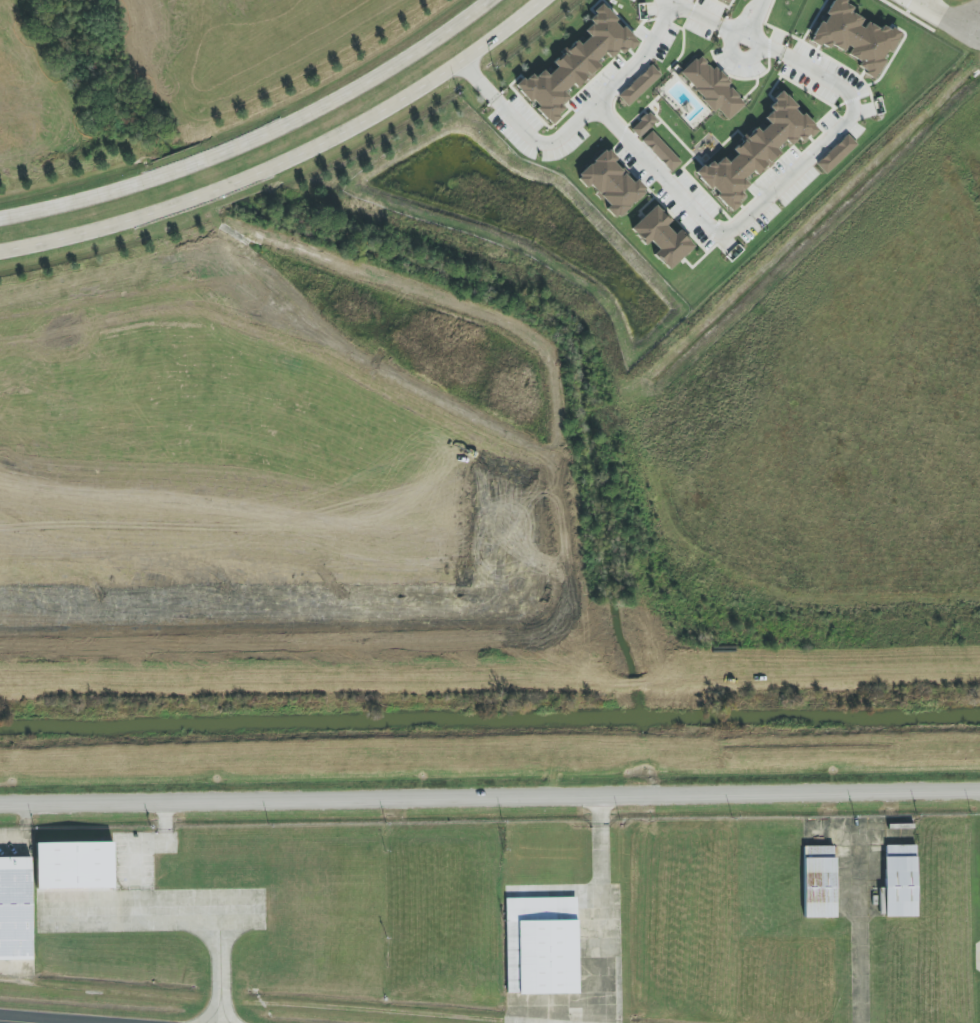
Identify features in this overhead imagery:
building: (726, 1)
road: (935, 20)
road: (703, 21)
road: (755, 21)
building: (854, 37)
road: (736, 61)
building: (575, 65)
building: (639, 85)
building: (712, 88)
building: (643, 124)
road: (576, 129)
road: (260, 138)
building: (661, 151)
building: (756, 151)
building: (836, 154)
road: (288, 163)
building: (611, 183)
road: (770, 196)
building: (661, 237)
road: (490, 795)
building: (74, 865)
airport apron: (857, 879)
airport hangar: (898, 886)
building: (898, 886)
airport hangar: (818, 887)
building: (818, 887)
airport hangar: (15, 909)
building: (15, 909)
airport: (495, 923)
airport hangar: (540, 957)
building: (540, 957)
airport apron: (577, 997)
road: (253, 1005)
airport taxiway: (87, 1016)

